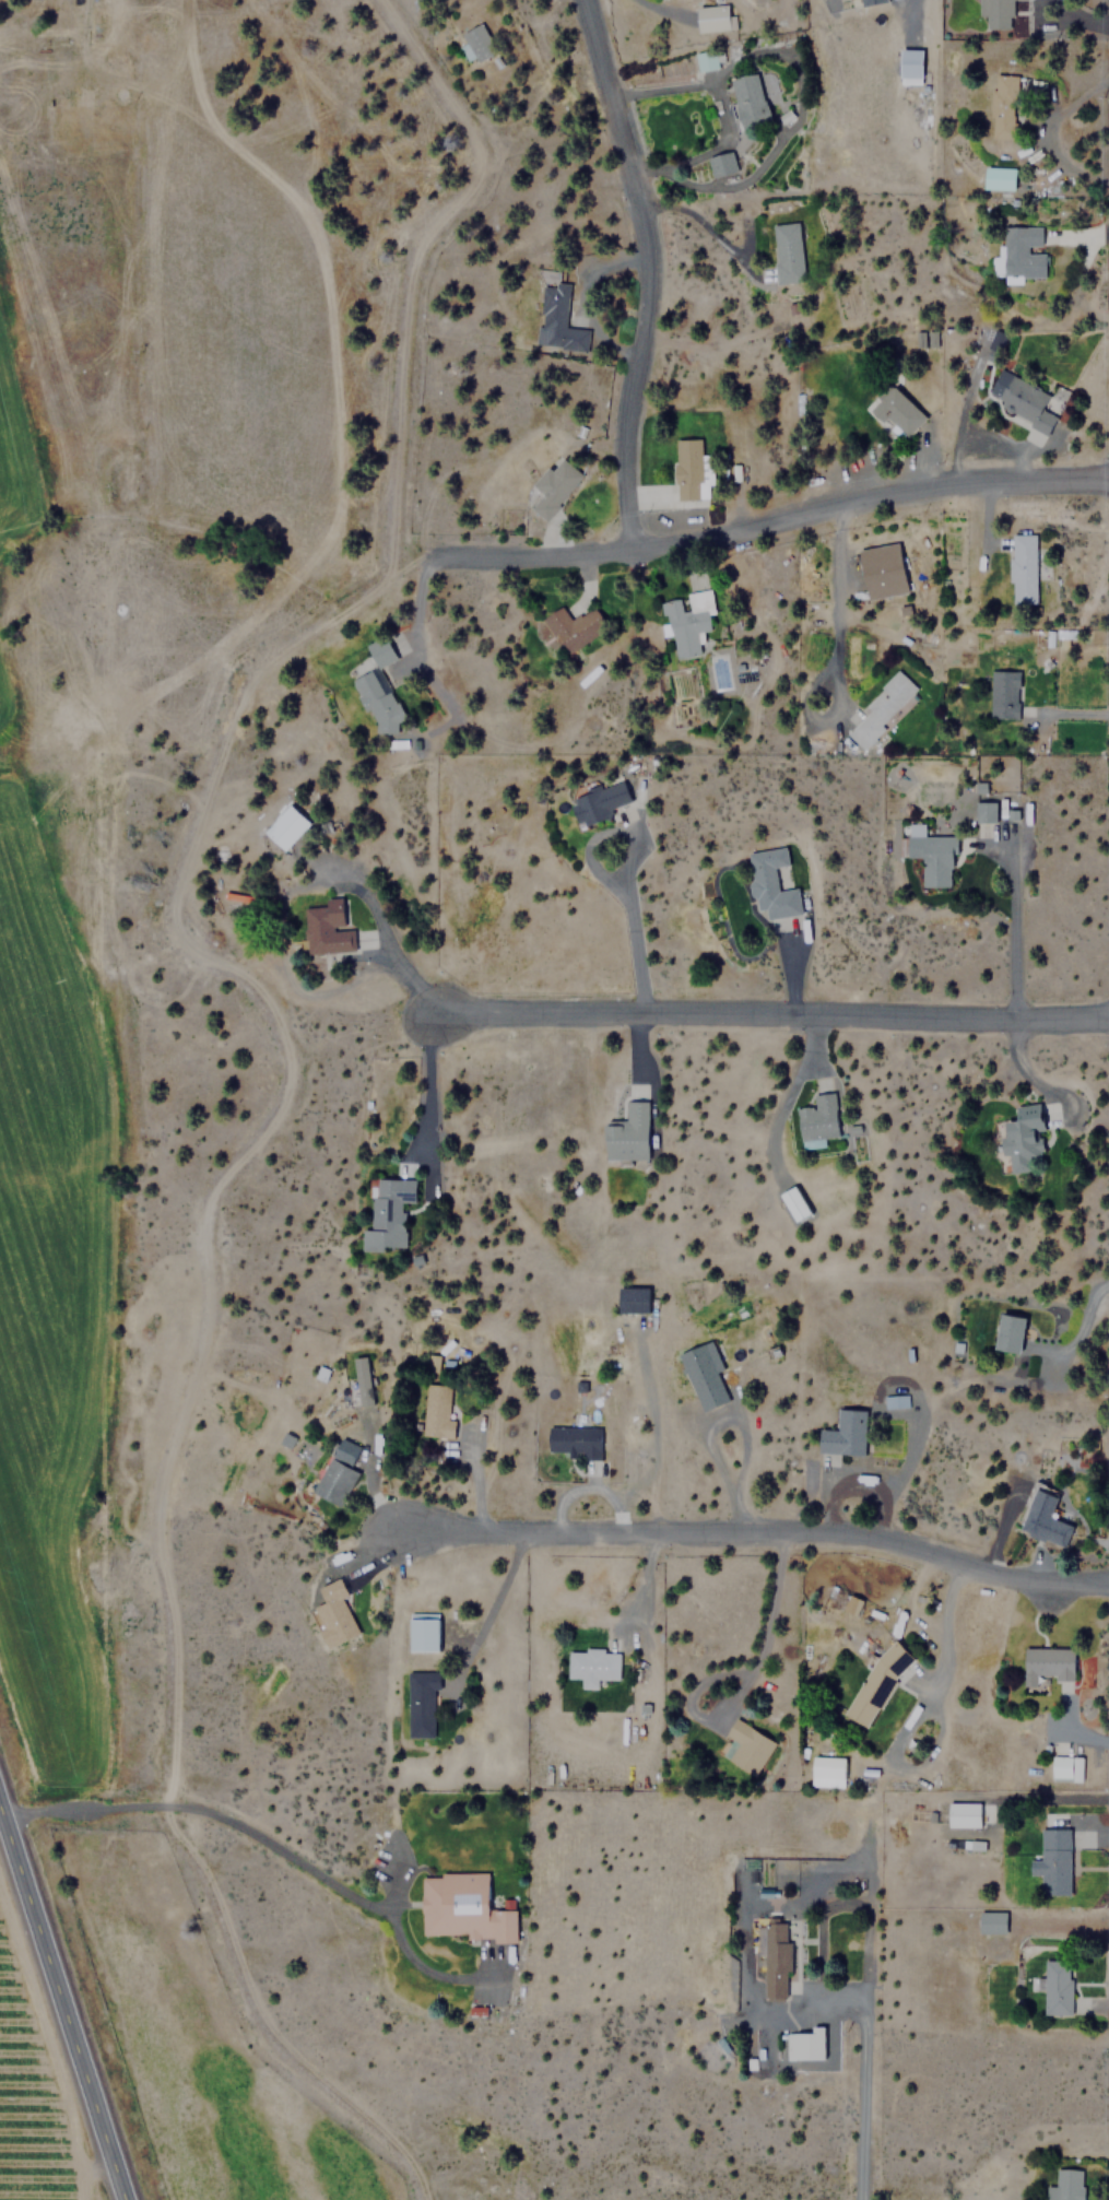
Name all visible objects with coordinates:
building: (870, 1)
building: (994, 13)
building: (712, 16)
building: (477, 42)
building: (704, 59)
building: (909, 63)
building: (748, 99)
building: (1003, 99)
building: (720, 164)
building: (998, 178)
building: (1019, 251)
building: (787, 252)
road: (641, 268)
building: (557, 320)
building: (995, 342)
building: (1024, 400)
building: (896, 411)
building: (689, 469)
building: (554, 486)
road: (772, 515)
building: (1022, 568)
building: (881, 570)
building: (687, 620)
building: (573, 625)
building: (377, 686)
building: (1003, 694)
building: (878, 709)
building: (600, 802)
building: (983, 811)
building: (285, 826)
building: (931, 856)
building: (770, 884)
building: (326, 928)
road: (763, 1016)
building: (817, 1119)
building: (627, 1134)
building: (1024, 1140)
building: (793, 1202)
building: (388, 1210)
building: (632, 1299)
building: (1008, 1333)
building: (704, 1374)
building: (364, 1379)
building: (896, 1401)
building: (436, 1411)
road: (650, 1427)
building: (843, 1433)
road: (740, 1436)
building: (575, 1440)
building: (337, 1472)
road: (587, 1489)
road: (825, 1495)
building: (1043, 1518)
road: (1003, 1525)
road: (750, 1533)
road: (641, 1584)
building: (853, 1604)
road: (486, 1611)
building: (334, 1612)
road: (946, 1625)
building: (1046, 1663)
building: (591, 1666)
building: (876, 1683)
road: (743, 1687)
building: (418, 1705)
building: (744, 1746)
building: (1064, 1767)
building: (827, 1772)
building: (963, 1813)
road: (272, 1845)
building: (1052, 1861)
building: (462, 1908)
building: (991, 1921)
building: (775, 1960)
building: (1055, 1986)
road: (61, 2004)
building: (803, 2044)
road: (861, 2072)
building: (1064, 2185)

